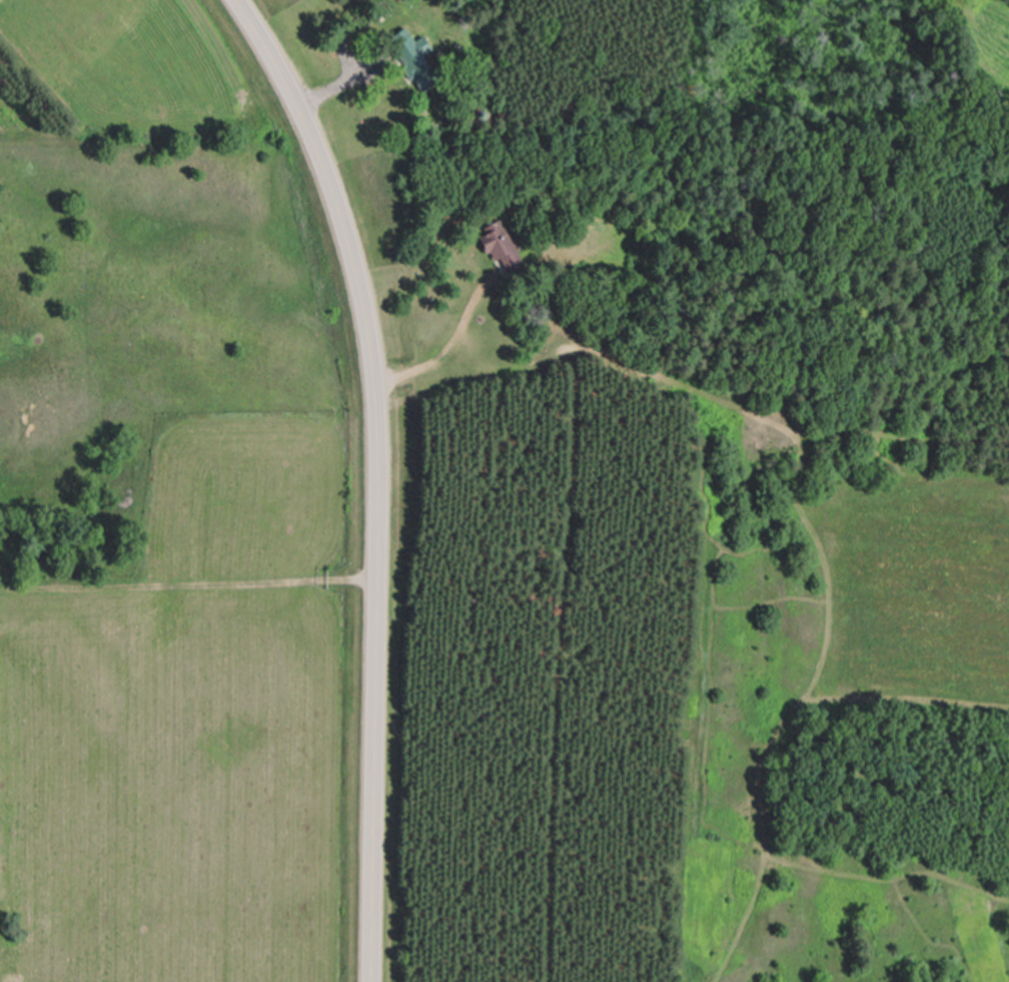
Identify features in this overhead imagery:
building: (413, 55)
road: (344, 81)
building: (501, 248)
road: (377, 476)

